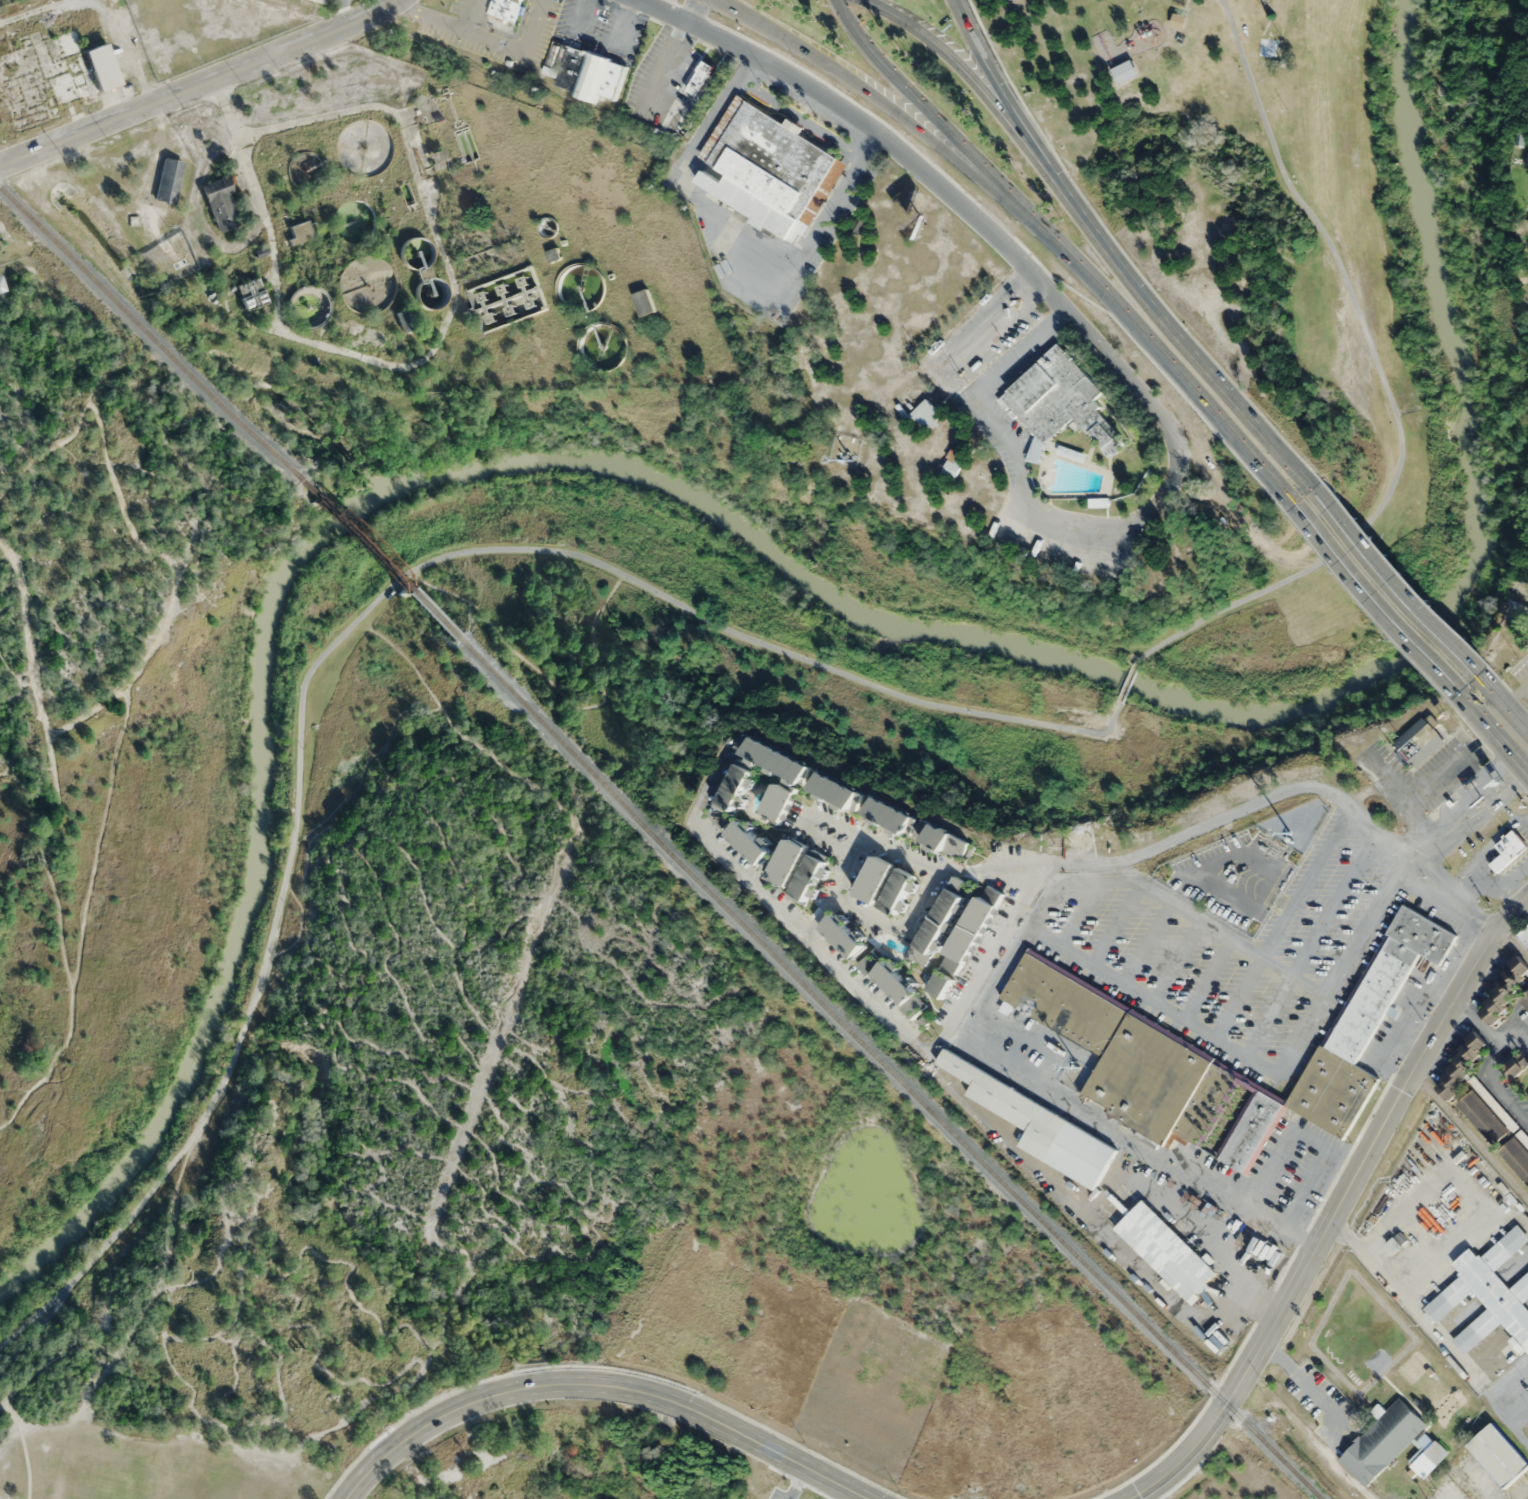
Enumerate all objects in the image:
building: (321, 1)
parking lot: (989, 1)
building: (506, 8)
road: (692, 11)
road: (470, 14)
road: (509, 34)
road: (483, 35)
road: (945, 56)
road: (989, 63)
building: (1124, 71)
building: (581, 73)
road: (658, 73)
building: (53, 74)
building: (702, 78)
road: (859, 85)
road: (200, 86)
road: (912, 95)
building: (438, 158)
building: (771, 168)
building: (168, 180)
building: (221, 204)
road: (973, 216)
park: (1266, 225)
building: (300, 231)
building: (2, 284)
building: (643, 302)
road: (1158, 312)
building: (404, 319)
railway: (147, 333)
road: (1143, 339)
road: (1384, 383)
building: (1058, 403)
building: (926, 414)
building: (1069, 453)
building: (952, 463)
building: (1047, 484)
railway: (375, 559)
road: (1394, 581)
road: (1371, 597)
road: (170, 609)
road: (355, 622)
building: (1526, 635)
road: (12, 671)
road: (1127, 681)
road: (29, 684)
road: (18, 693)
road: (1513, 698)
road: (1492, 701)
road: (1482, 711)
park: (113, 729)
road: (1517, 738)
building: (1418, 742)
building: (770, 758)
building: (733, 790)
building: (835, 791)
building: (778, 805)
road: (1238, 812)
road: (836, 823)
building: (914, 827)
road: (102, 832)
building: (747, 844)
building: (1508, 849)
building: (786, 863)
building: (807, 879)
building: (885, 886)
road: (836, 888)
road: (1173, 906)
road: (1080, 915)
building: (942, 917)
road: (1282, 921)
road: (896, 926)
road: (1115, 926)
building: (1524, 934)
building: (968, 936)
building: (841, 938)
road: (63, 939)
road: (1310, 942)
road: (1145, 943)
road: (1175, 961)
building: (887, 979)
road: (1206, 979)
building: (939, 985)
building: (1505, 987)
road: (858, 990)
building: (1525, 998)
road: (1476, 1023)
building: (1365, 1024)
road: (1512, 1030)
road: (1262, 1064)
building: (1461, 1065)
building: (1516, 1065)
railway: (887, 1069)
road: (1499, 1084)
building: (1527, 1095)
building: (1483, 1115)
building: (1039, 1125)
building: (1251, 1129)
road: (1471, 1136)
road: (1370, 1146)
park: (544, 1153)
building: (1516, 1156)
building: (1505, 1246)
building: (1165, 1250)
building: (1521, 1287)
building: (1495, 1295)
road: (144, 1296)
building: (1448, 1297)
building: (1477, 1329)
road: (34, 1334)
road: (116, 1352)
road: (602, 1384)
road: (1306, 1386)
parking lot: (1510, 1394)
building: (1381, 1440)
road: (25, 1445)
building: (1500, 1453)
road: (1182, 1456)
building: (1426, 1458)

